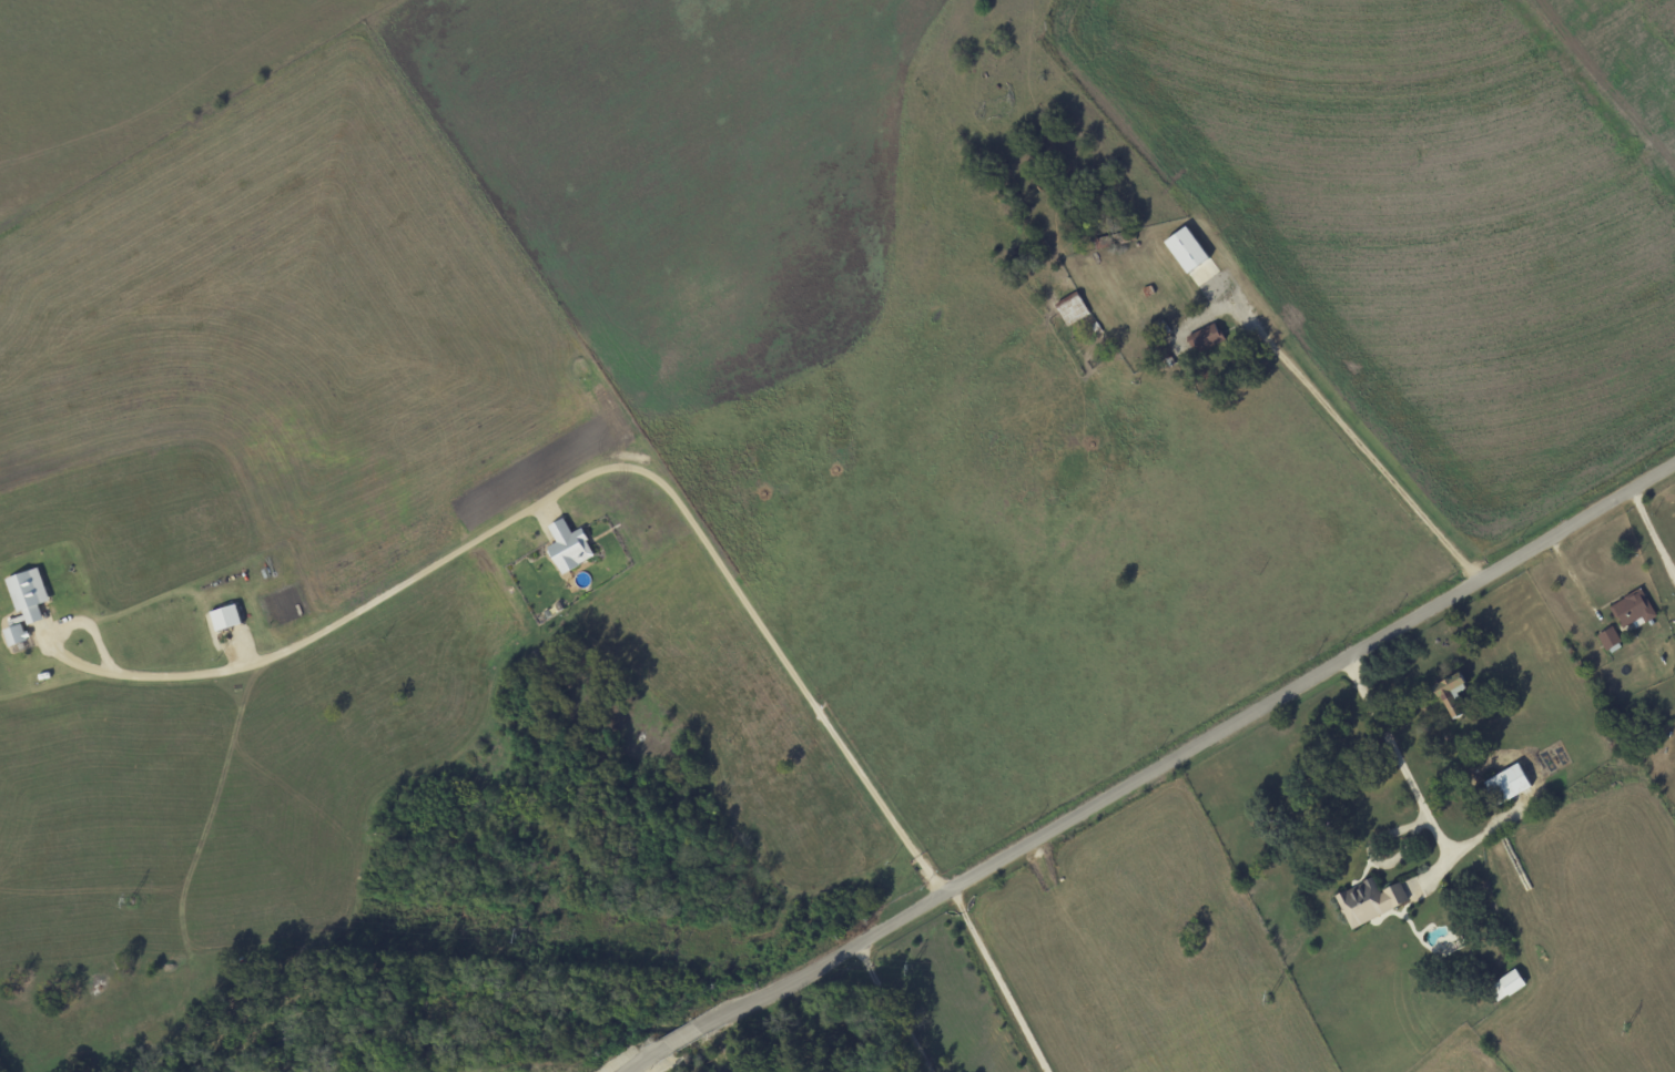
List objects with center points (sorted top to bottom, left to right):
building: (1184, 248)
building: (1210, 274)
building: (1069, 307)
building: (1204, 337)
road: (1374, 461)
road: (579, 487)
road: (1645, 541)
building: (567, 547)
building: (24, 595)
building: (1631, 608)
building: (223, 616)
building: (13, 634)
building: (1606, 637)
building: (1450, 694)
road: (1401, 757)
road: (1161, 768)
building: (1504, 784)
power tower: (125, 901)
building: (1367, 901)
power tower: (516, 935)
power tower: (908, 969)
road: (1006, 980)
building: (1504, 986)
power tower: (1269, 1001)
road: (895, 1010)
power tower: (1628, 1030)

